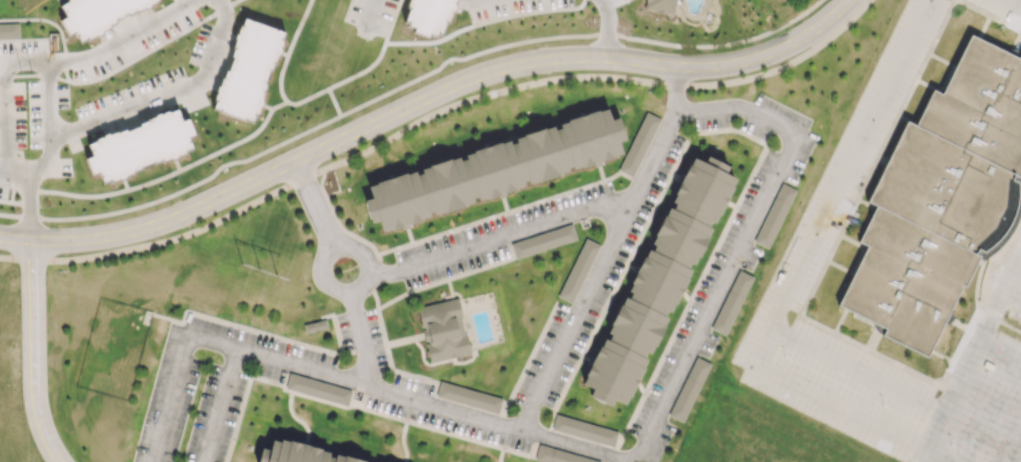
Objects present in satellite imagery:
road: (1017, 1)
building: (661, 5)
parking lot: (1001, 9)
building: (428, 13)
building: (95, 14)
road: (368, 17)
road: (44, 19)
building: (8, 29)
road: (610, 29)
road: (8, 30)
road: (119, 36)
power tower: (31, 70)
building: (249, 70)
road: (47, 86)
road: (404, 88)
road: (675, 89)
road: (163, 93)
road: (422, 100)
road: (449, 104)
road: (742, 108)
parking lot: (871, 116)
road: (3, 135)
building: (638, 143)
building: (144, 144)
road: (217, 150)
building: (492, 168)
road: (14, 175)
road: (663, 186)
road: (30, 196)
road: (312, 203)
building: (942, 204)
building: (774, 215)
road: (338, 222)
road: (501, 238)
building: (545, 241)
road: (16, 260)
power tower: (268, 263)
road: (377, 267)
building: (578, 270)
road: (796, 275)
parking lot: (427, 276)
road: (445, 278)
road: (374, 281)
building: (662, 283)
road: (356, 288)
road: (986, 288)
road: (450, 291)
building: (732, 303)
road: (466, 324)
building: (314, 325)
road: (243, 326)
building: (443, 331)
road: (447, 337)
road: (359, 339)
road: (442, 347)
road: (362, 348)
road: (33, 352)
road: (971, 356)
road: (440, 361)
road: (392, 368)
road: (856, 370)
road: (177, 376)
building: (319, 388)
building: (688, 389)
building: (470, 398)
road: (243, 401)
road: (331, 403)
road: (289, 404)
road: (426, 404)
road: (215, 405)
road: (406, 419)
building: (584, 430)
road: (503, 445)
building: (295, 454)
building: (558, 455)
road: (608, 460)

